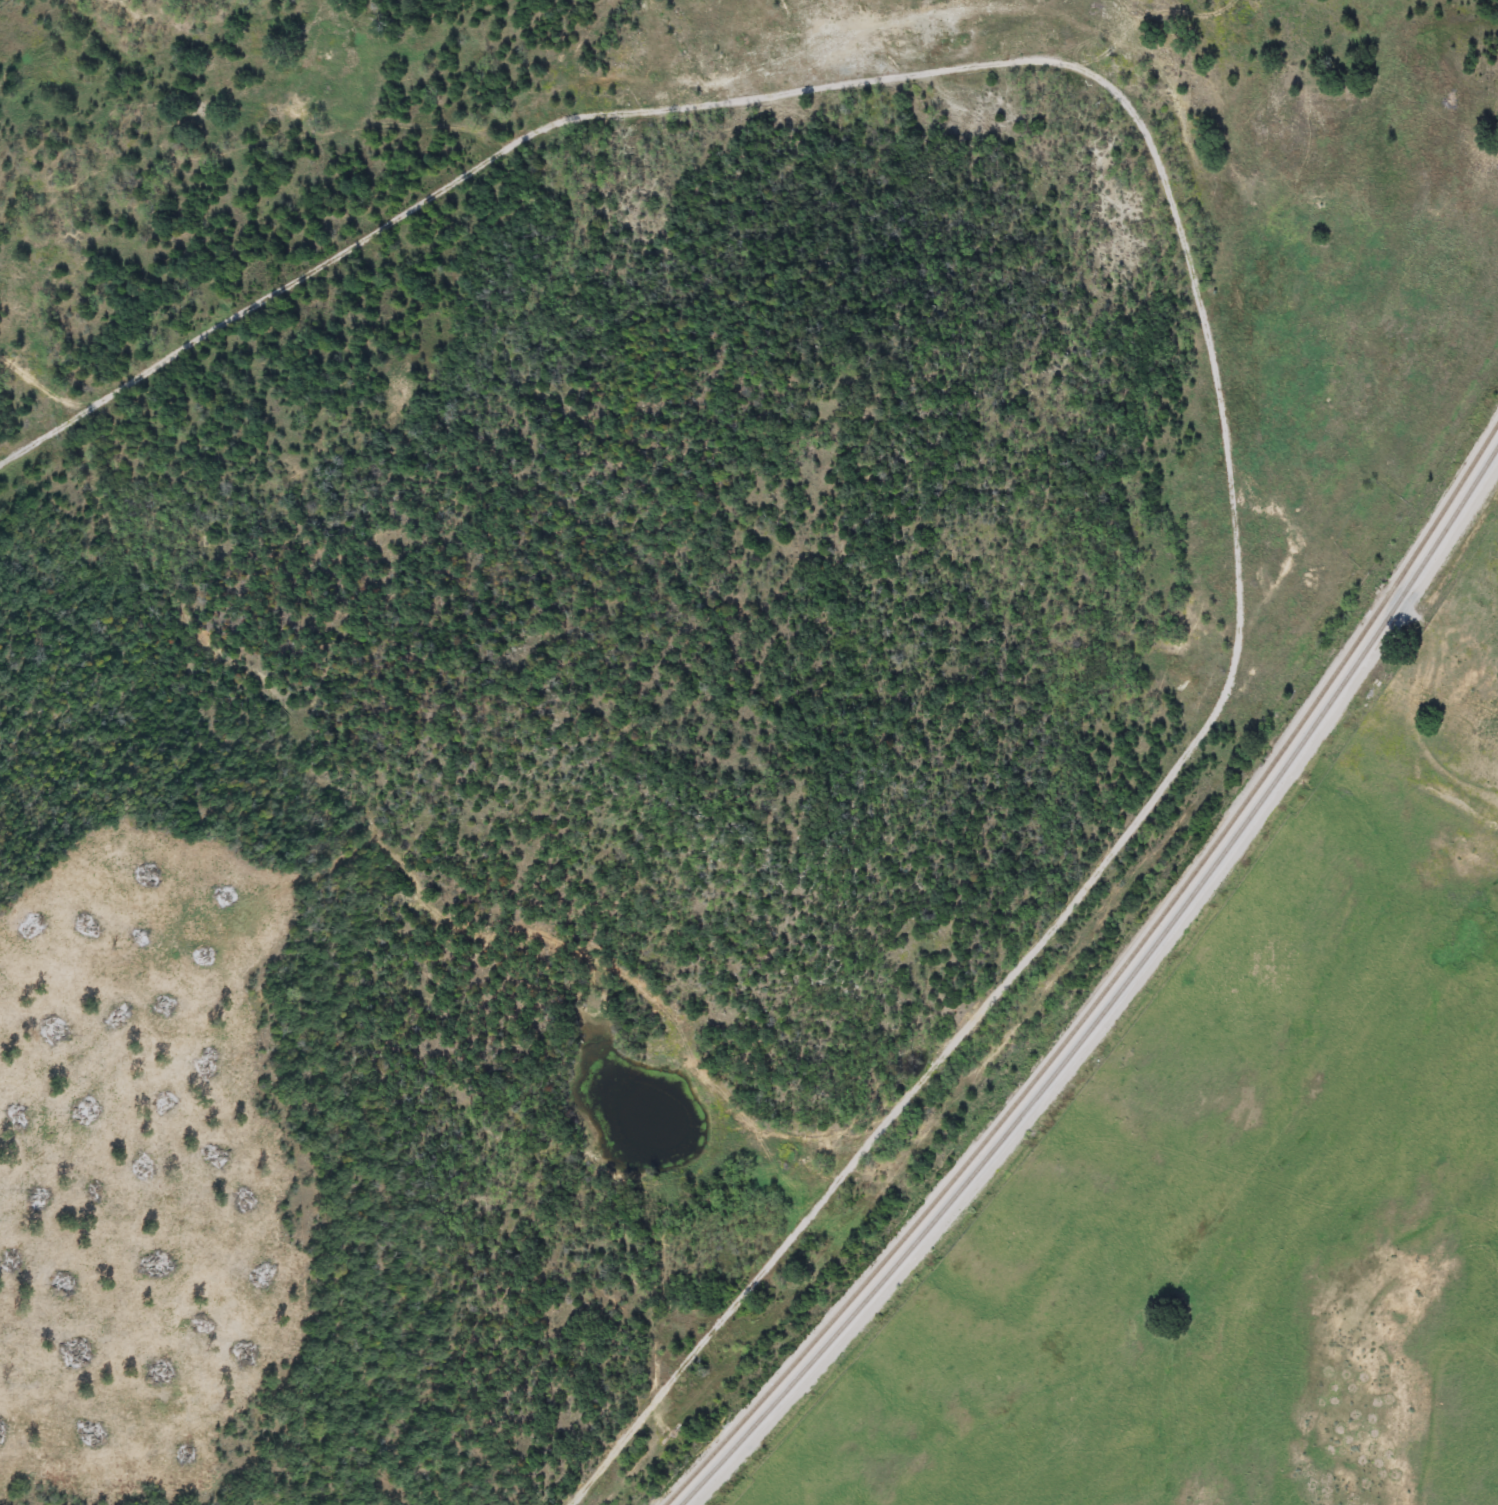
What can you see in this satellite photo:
road: (1199, 304)
railway: (1107, 982)

